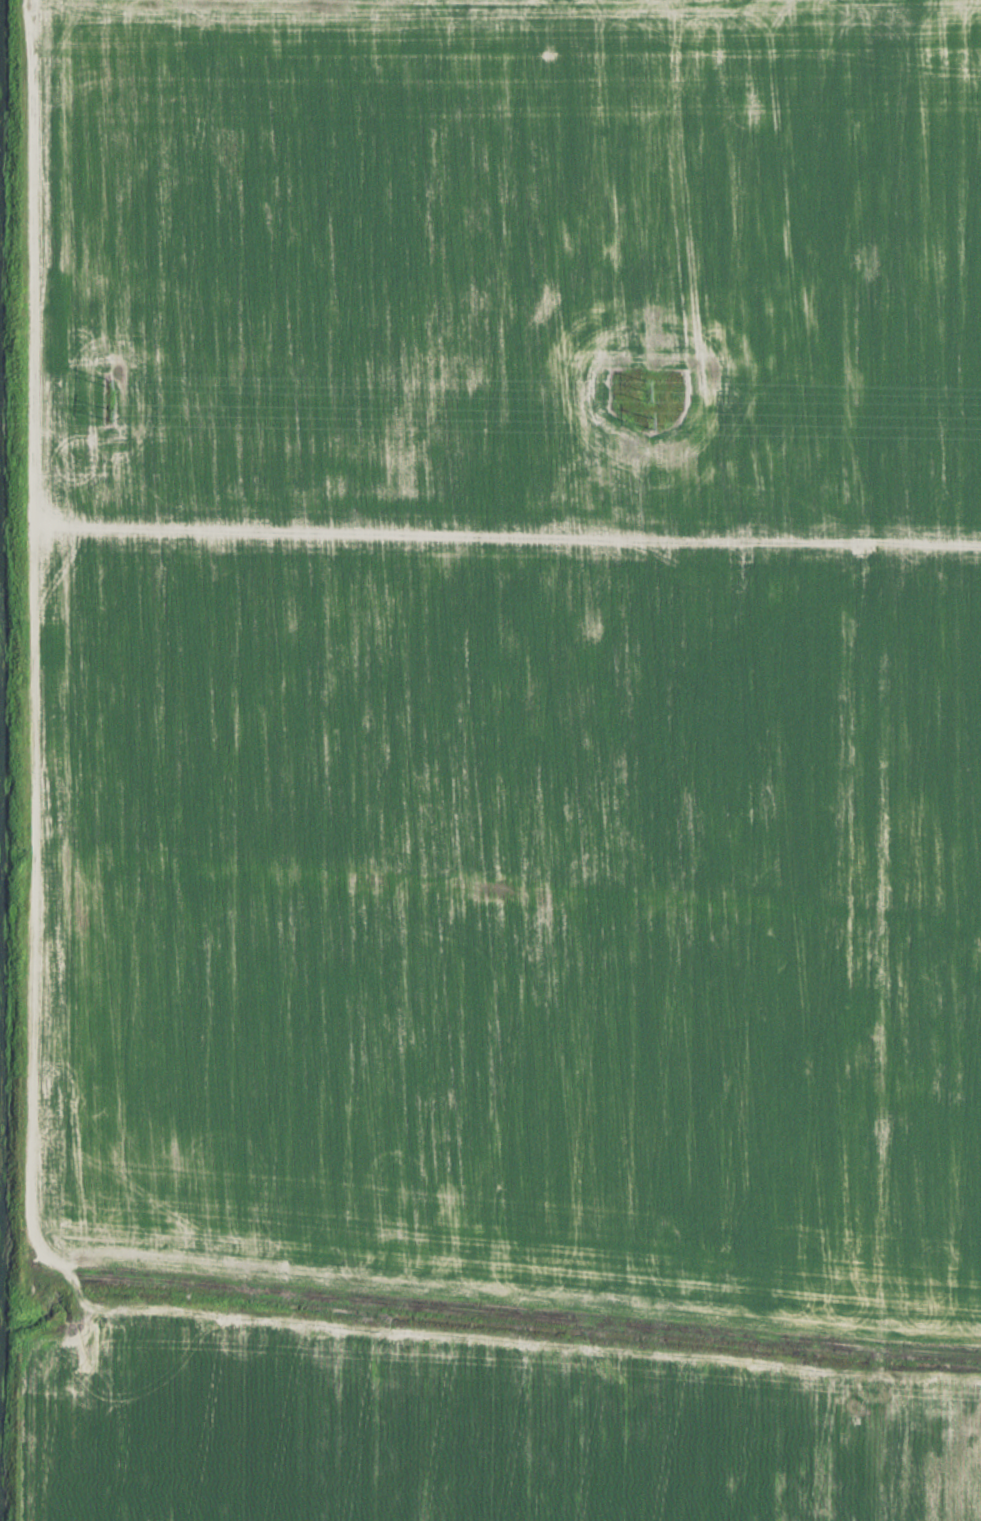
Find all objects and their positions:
road: (26, 1104)
road: (77, 1296)

